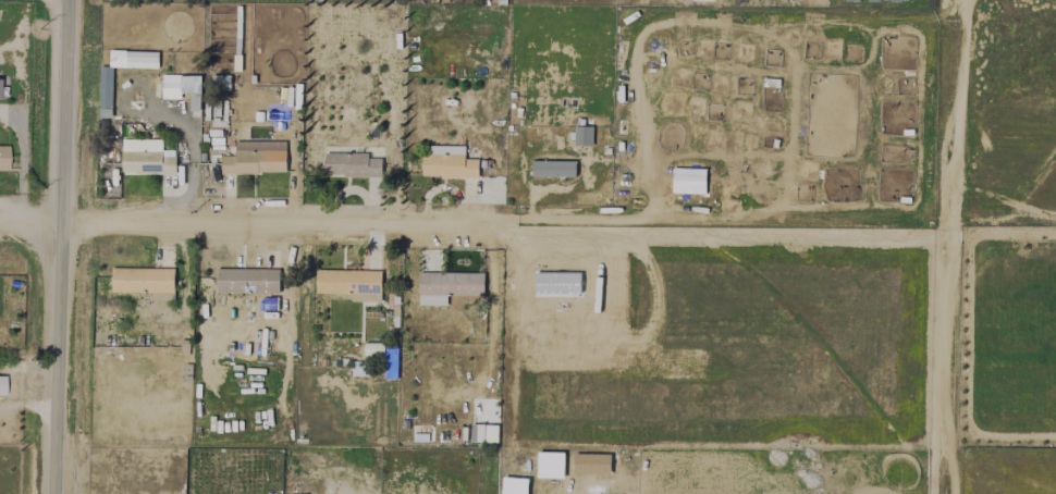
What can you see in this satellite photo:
building: (140, 59)
building: (182, 88)
building: (105, 91)
road: (948, 119)
building: (582, 136)
building: (3, 157)
building: (145, 158)
building: (255, 158)
building: (446, 162)
building: (351, 165)
building: (552, 169)
road: (30, 224)
road: (503, 232)
road: (999, 236)
road: (61, 247)
building: (246, 281)
building: (144, 282)
building: (556, 283)
building: (349, 284)
building: (447, 286)
road: (946, 366)
building: (1, 384)

